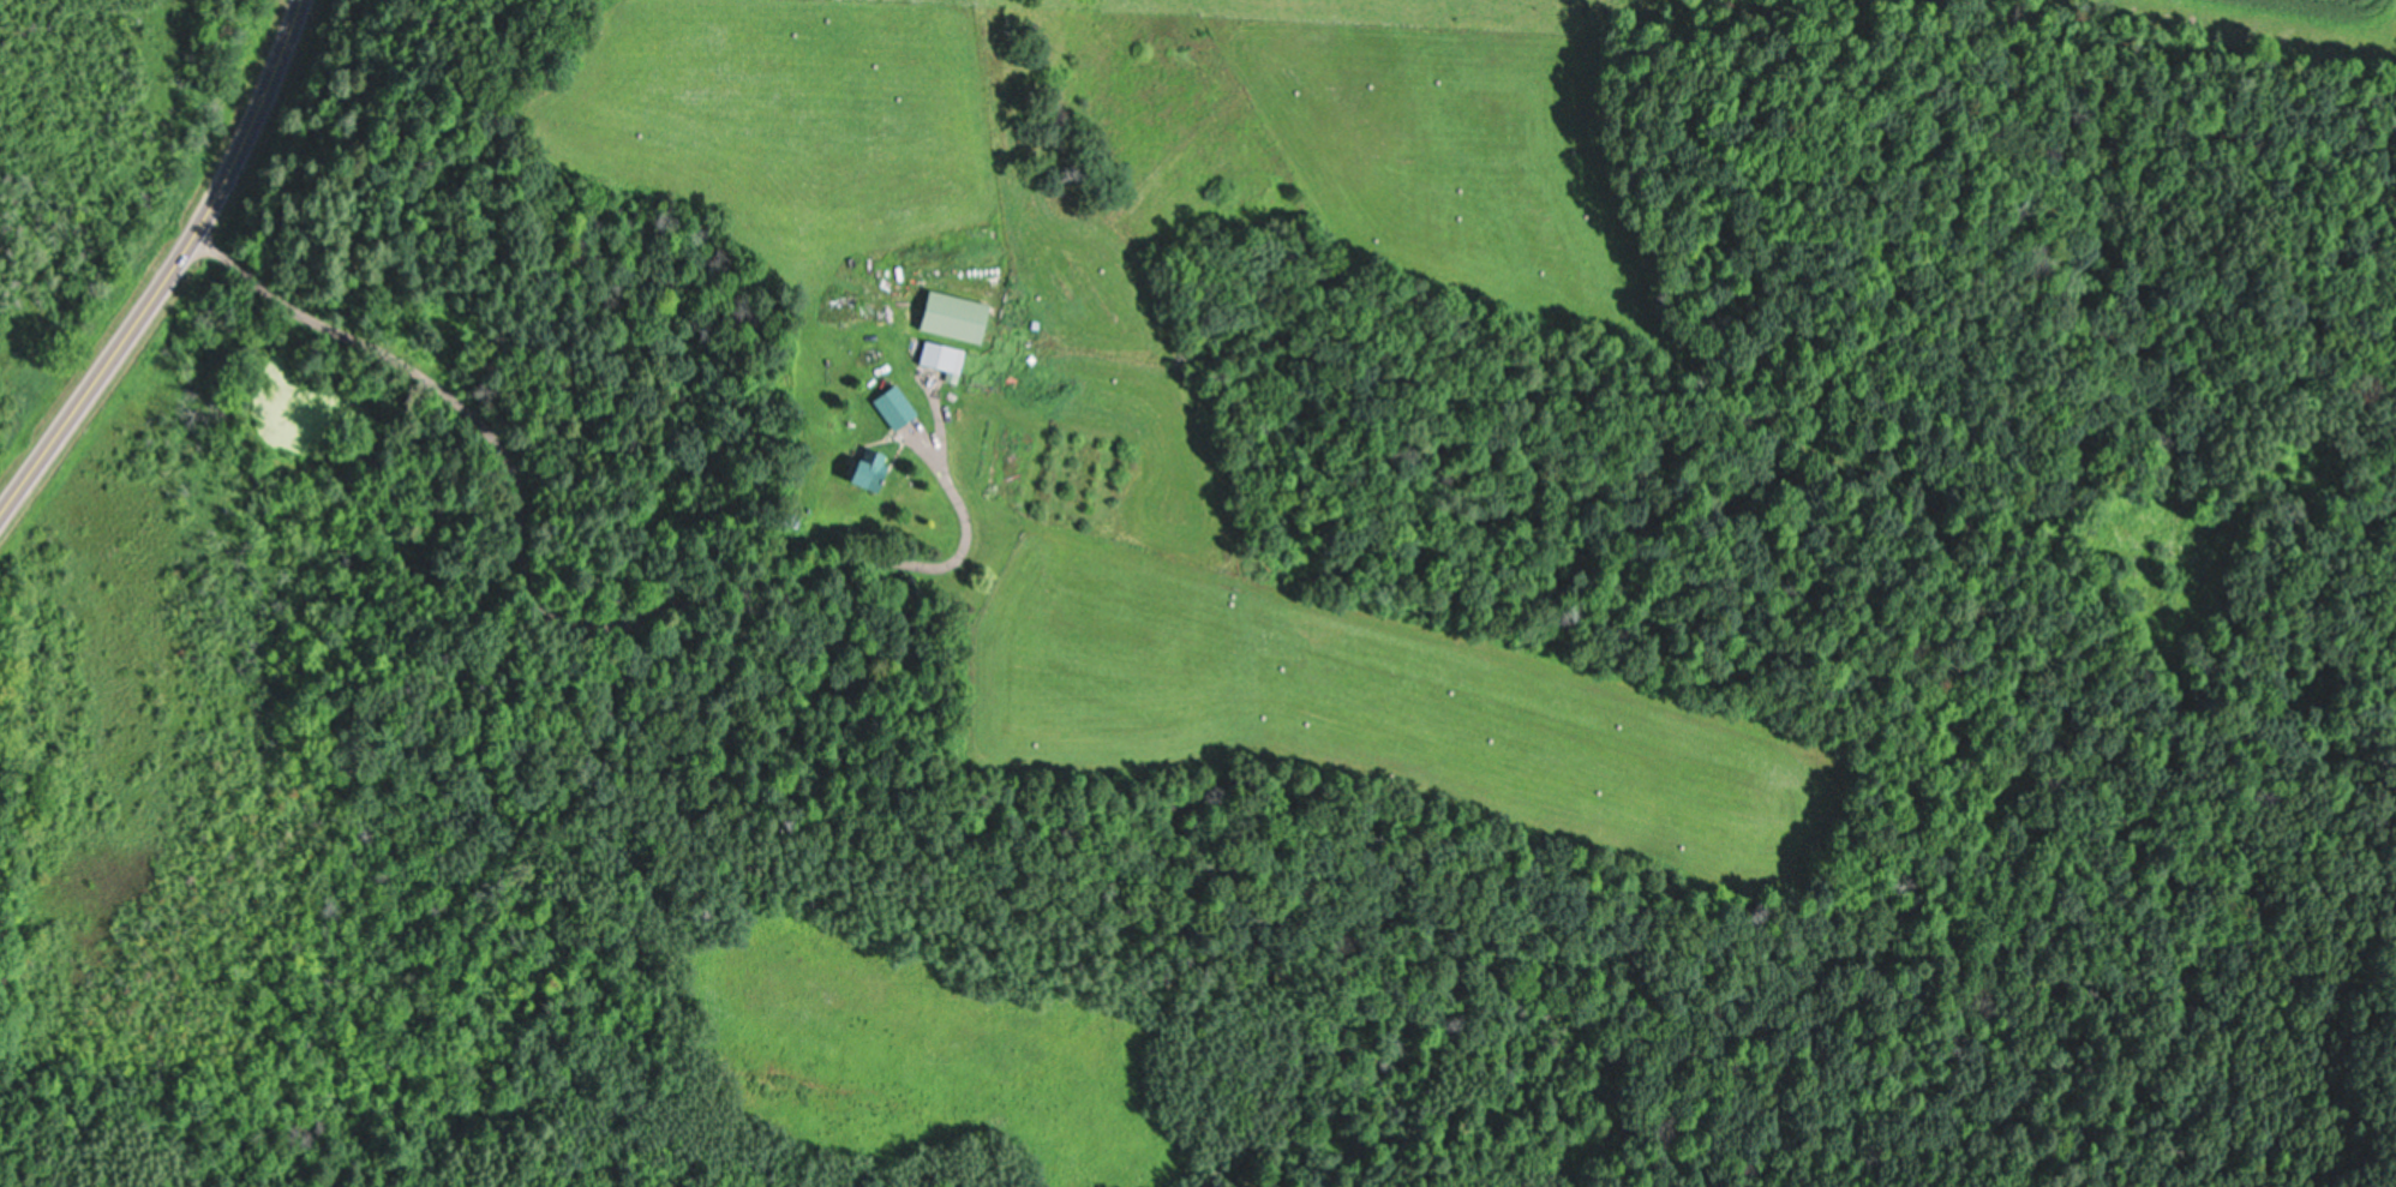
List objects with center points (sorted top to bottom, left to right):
road: (167, 266)
building: (953, 316)
building: (938, 354)
building: (891, 407)
road: (942, 424)
building: (862, 467)
road: (622, 488)

